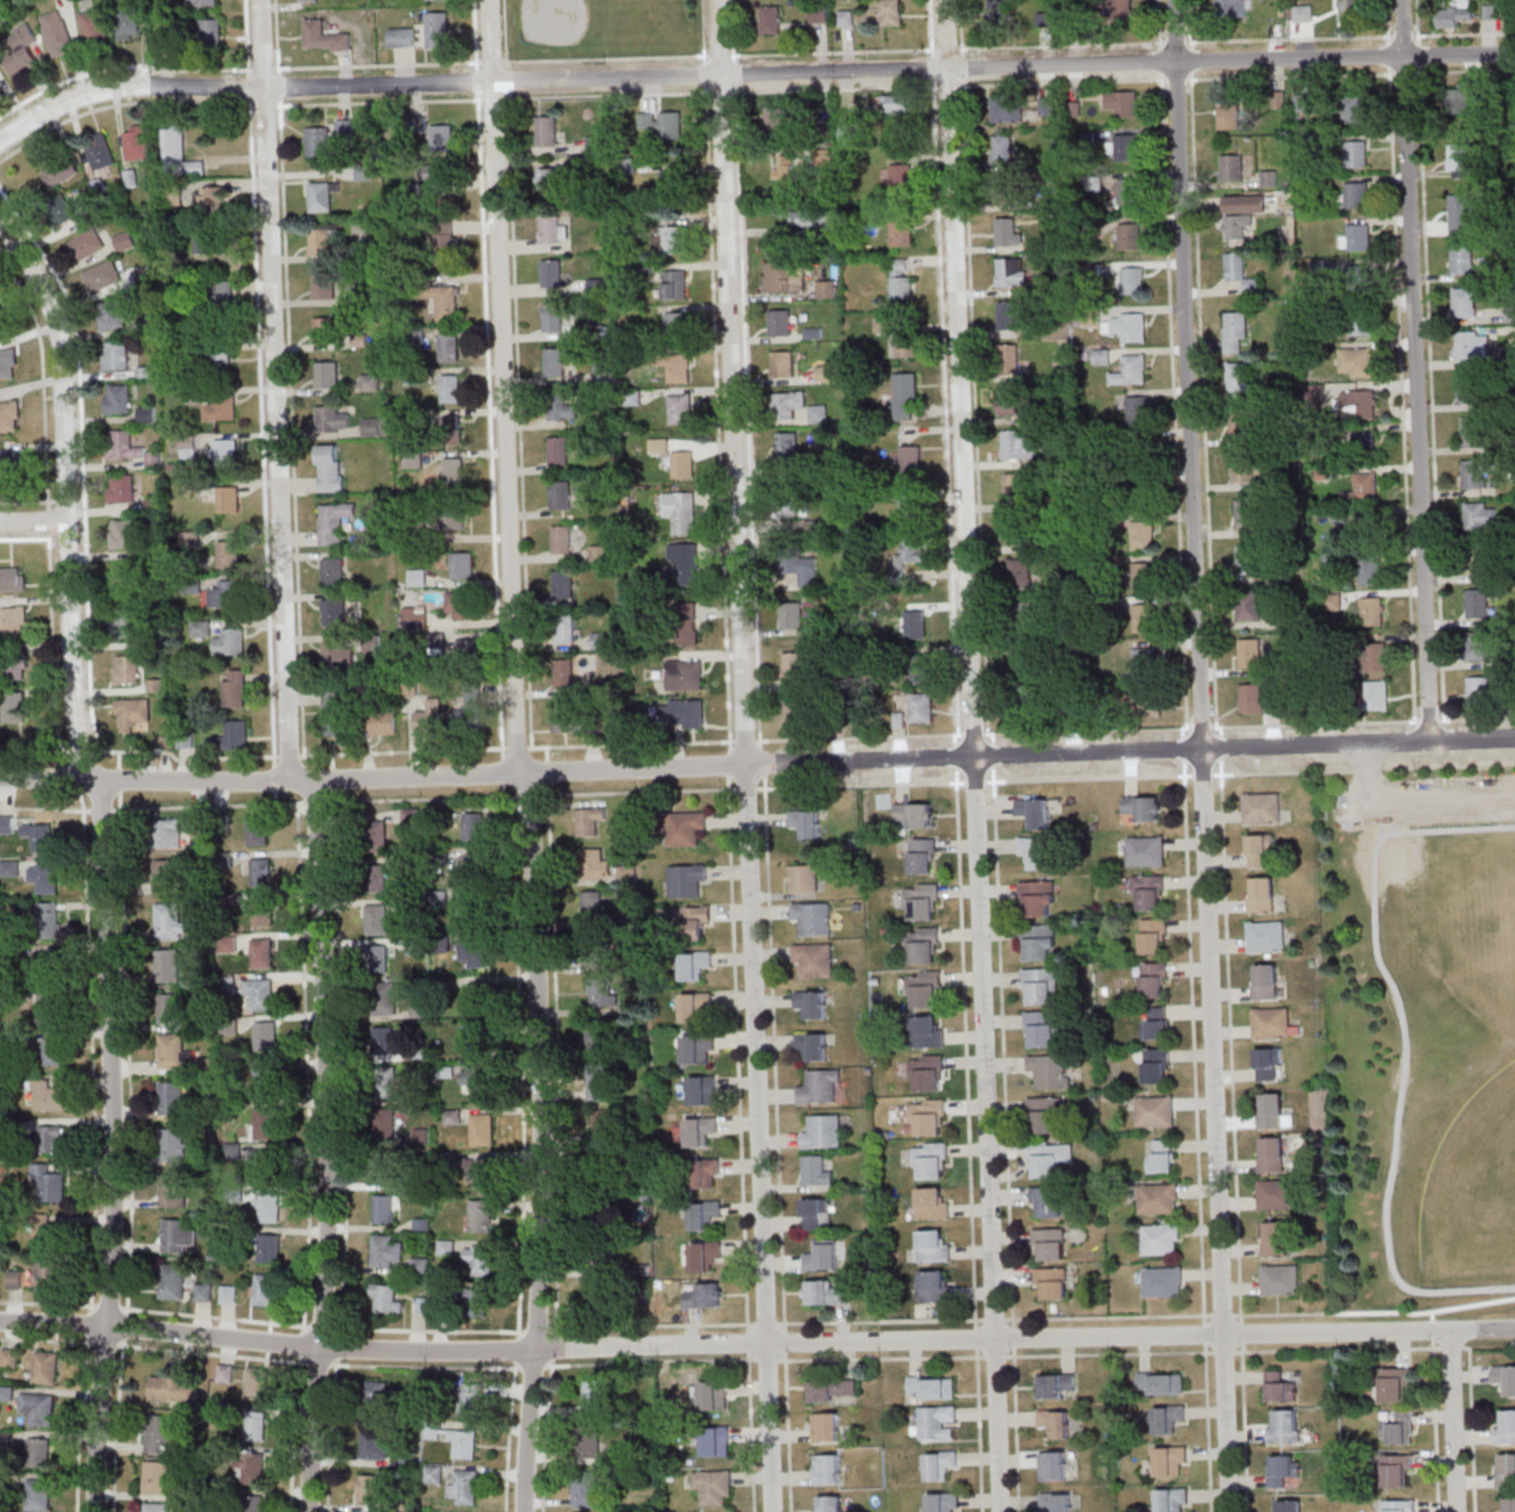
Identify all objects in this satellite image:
building: (307, 1)
building: (203, 2)
building: (1231, 8)
building: (1115, 9)
building: (996, 11)
building: (1350, 11)
building: (892, 12)
building: (1301, 13)
building: (819, 14)
park: (592, 17)
building: (846, 18)
building: (1452, 18)
building: (770, 19)
building: (128, 22)
road: (1417, 22)
building: (437, 24)
building: (93, 25)
road: (1190, 25)
park: (602, 29)
road: (931, 29)
building: (210, 30)
road: (733, 30)
road: (703, 31)
building: (57, 33)
road: (1463, 33)
road: (474, 34)
road: (505, 35)
building: (316, 36)
road: (246, 37)
building: (19, 48)
road: (833, 52)
road: (719, 55)
road: (604, 58)
road: (1190, 58)
road: (124, 65)
road: (751, 75)
building: (0, 84)
road: (750, 91)
building: (1460, 99)
building: (1122, 102)
building: (897, 103)
building: (1303, 103)
building: (1007, 107)
building: (1353, 107)
building: (1229, 115)
building: (777, 119)
building: (662, 123)
building: (343, 126)
building: (546, 131)
building: (851, 133)
building: (442, 137)
building: (317, 141)
building: (136, 142)
building: (1126, 147)
building: (1003, 149)
building: (99, 151)
building: (1356, 153)
building: (177, 154)
building: (1460, 160)
building: (786, 167)
building: (1231, 167)
building: (901, 170)
building: (58, 171)
building: (364, 172)
building: (438, 175)
building: (548, 178)
building: (670, 183)
building: (1002, 190)
building: (1126, 191)
building: (321, 195)
building: (1357, 195)
building: (212, 198)
building: (64, 209)
building: (1462, 214)
building: (1242, 215)
building: (814, 220)
building: (551, 229)
building: (1008, 232)
building: (901, 233)
building: (1131, 236)
building: (445, 237)
building: (1357, 238)
building: (672, 240)
building: (124, 241)
building: (319, 241)
building: (206, 242)
building: (84, 245)
building: (1463, 259)
building: (1236, 266)
building: (1012, 271)
building: (551, 272)
building: (144, 273)
building: (1357, 275)
building: (101, 276)
building: (784, 277)
building: (901, 278)
building: (1131, 280)
building: (675, 284)
building: (325, 285)
building: (826, 289)
building: (222, 291)
building: (1464, 301)
building: (447, 303)
building: (1510, 314)
building: (109, 315)
building: (1011, 315)
building: (552, 317)
building: (780, 322)
building: (883, 323)
building: (678, 324)
building: (1361, 324)
building: (2, 326)
building: (1127, 327)
building: (324, 330)
building: (1235, 331)
building: (907, 341)
building: (1473, 345)
building: (449, 347)
building: (114, 355)
building: (1102, 356)
building: (1012, 357)
building: (7, 359)
building: (220, 359)
building: (555, 361)
building: (1356, 362)
building: (782, 363)
building: (679, 368)
building: (1131, 370)
road: (1418, 370)
building: (603, 373)
building: (825, 373)
building: (326, 374)
building: (1238, 376)
building: (369, 382)
road: (505, 387)
building: (1470, 387)
building: (448, 388)
road: (277, 391)
building: (906, 396)
building: (116, 398)
building: (1010, 401)
building: (788, 404)
building: (1358, 404)
building: (218, 408)
building: (561, 408)
building: (680, 409)
building: (1136, 409)
building: (146, 414)
building: (819, 414)
building: (9, 415)
building: (332, 419)
building: (1241, 423)
building: (371, 426)
building: (450, 428)
building: (1472, 431)
building: (1361, 444)
building: (1018, 445)
building: (187, 446)
building: (788, 446)
building: (126, 447)
building: (558, 450)
building: (223, 452)
building: (1135, 452)
building: (912, 458)
building: (9, 461)
building: (683, 464)
building: (330, 468)
building: (1244, 468)
building: (453, 471)
building: (1476, 473)
building: (1014, 486)
building: (121, 488)
building: (1363, 489)
building: (560, 495)
building: (227, 499)
road: (32, 500)
building: (793, 510)
building: (681, 511)
building: (1245, 514)
building: (911, 515)
building: (1479, 517)
building: (450, 519)
road: (32, 522)
building: (334, 522)
building: (1367, 524)
road: (47, 531)
building: (1016, 531)
building: (122, 533)
building: (1140, 535)
road: (23, 538)
building: (190, 538)
building: (561, 539)
building: (599, 553)
building: (910, 553)
building: (228, 554)
building: (1247, 559)
building: (1477, 559)
building: (686, 562)
building: (462, 565)
building: (801, 568)
building: (1370, 570)
building: (332, 571)
building: (1020, 573)
building: (1141, 576)
building: (12, 577)
building: (134, 578)
building: (563, 584)
building: (224, 594)
building: (1332, 601)
building: (1476, 603)
building: (461, 604)
building: (1248, 606)
building: (1372, 610)
building: (333, 612)
building: (791, 615)
building: (1022, 617)
building: (1142, 618)
building: (13, 619)
building: (688, 623)
building: (916, 623)
building: (129, 625)
building: (566, 627)
building: (200, 628)
building: (601, 640)
building: (230, 642)
building: (373, 643)
building: (1478, 645)
building: (467, 650)
building: (1249, 652)
building: (338, 654)
building: (1374, 656)
building: (1020, 660)
road: (1183, 661)
building: (1145, 663)
building: (794, 666)
building: (14, 667)
building: (919, 668)
building: (126, 669)
building: (685, 672)
building: (564, 674)
building: (1479, 687)
building: (234, 688)
road: (1214, 695)
building: (1376, 695)
building: (336, 697)
building: (1250, 697)
building: (1025, 700)
building: (1149, 702)
building: (14, 706)
building: (921, 708)
building: (470, 710)
building: (794, 711)
building: (133, 715)
building: (429, 716)
building: (690, 716)
building: (566, 717)
building: (383, 723)
building: (337, 724)
building: (234, 735)
road: (100, 743)
road: (42, 749)
road: (1201, 755)
road: (743, 756)
road: (973, 756)
road: (988, 756)
road: (757, 764)
road: (955, 785)
road: (763, 786)
road: (728, 787)
road: (1417, 797)
parking lot: (1429, 800)
building: (1144, 807)
building: (1263, 807)
building: (1034, 812)
building: (916, 814)
building: (411, 816)
building: (589, 820)
building: (806, 822)
building: (472, 825)
building: (686, 828)
building: (257, 830)
building: (167, 832)
building: (377, 835)
building: (42, 838)
building: (1036, 851)
building: (1147, 851)
building: (1260, 851)
building: (922, 855)
road: (101, 858)
building: (596, 863)
building: (475, 867)
building: (10, 868)
building: (261, 872)
building: (627, 873)
building: (165, 875)
building: (45, 876)
building: (376, 877)
building: (803, 878)
building: (687, 880)
building: (1149, 892)
building: (1261, 894)
building: (1037, 898)
building: (922, 901)
building: (592, 903)
building: (472, 908)
building: (261, 912)
building: (813, 917)
building: (377, 919)
building: (49, 920)
building: (169, 921)
building: (695, 921)
park: (1470, 929)
building: (1154, 936)
building: (1266, 936)
building: (1039, 942)
building: (923, 945)
building: (415, 948)
building: (475, 952)
building: (262, 953)
building: (596, 956)
building: (377, 958)
building: (814, 959)
building: (50, 964)
building: (695, 964)
building: (167, 965)
building: (1155, 980)
building: (1265, 981)
building: (1040, 986)
building: (925, 989)
building: (601, 991)
building: (260, 993)
building: (480, 996)
building: (386, 998)
building: (812, 1003)
building: (696, 1006)
building: (168, 1007)
building: (49, 1009)
building: (1273, 1023)
building: (1156, 1024)
building: (1043, 1029)
building: (927, 1031)
park: (1421, 1031)
building: (265, 1036)
building: (597, 1038)
building: (383, 1040)
building: (478, 1041)
building: (813, 1045)
building: (699, 1049)
building: (54, 1051)
building: (174, 1052)
building: (1267, 1063)
building: (1157, 1066)
building: (1051, 1070)
building: (927, 1073)
building: (265, 1078)
building: (386, 1082)
building: (602, 1082)
building: (477, 1083)
building: (820, 1087)
building: (703, 1090)
building: (47, 1096)
building: (171, 1098)
building: (1155, 1111)
building: (1272, 1112)
building: (1044, 1115)
building: (451, 1116)
building: (929, 1117)
building: (266, 1122)
building: (384, 1123)
building: (604, 1126)
building: (481, 1129)
building: (701, 1130)
building: (823, 1132)
building: (420, 1136)
building: (51, 1138)
road: (541, 1143)
building: (173, 1144)
road: (330, 1147)
building: (1270, 1154)
building: (1162, 1156)
building: (1050, 1159)
building: (267, 1161)
building: (931, 1161)
building: (385, 1169)
building: (481, 1169)
building: (816, 1171)
building: (706, 1173)
building: (47, 1182)
park: (1477, 1187)
building: (173, 1190)
building: (1275, 1194)
building: (599, 1196)
building: (1158, 1198)
building: (1047, 1202)
building: (933, 1203)
building: (268, 1204)
building: (387, 1209)
building: (816, 1213)
building: (704, 1214)
building: (480, 1215)
building: (47, 1230)
building: (176, 1235)
building: (1160, 1238)
building: (1274, 1239)
building: (1050, 1244)
building: (934, 1246)
building: (269, 1248)
building: (386, 1250)
building: (705, 1255)
building: (823, 1256)
building: (480, 1258)
building: (420, 1264)
building: (48, 1272)
building: (1280, 1279)
building: (172, 1281)
building: (1162, 1281)
building: (1053, 1282)
building: (934, 1285)
building: (266, 1289)
building: (203, 1292)
building: (827, 1293)
building: (228, 1294)
building: (705, 1296)
building: (602, 1297)
building: (387, 1298)
road: (55, 1302)
building: (476, 1302)
road: (115, 1306)
road: (1282, 1313)
road: (1221, 1315)
road: (87, 1323)
road: (665, 1324)
road: (124, 1330)
road: (1240, 1331)
road: (1204, 1333)
road: (756, 1345)
road: (1355, 1348)
building: (9, 1357)
road: (537, 1365)
building: (45, 1367)
building: (225, 1373)
building: (1504, 1379)
building: (257, 1383)
building: (1394, 1383)
building: (1057, 1385)
building: (1167, 1385)
building: (933, 1387)
building: (1280, 1387)
building: (173, 1389)
building: (833, 1390)
building: (376, 1393)
building: (711, 1395)
building: (595, 1396)
building: (470, 1399)
building: (38, 1408)
building: (1168, 1418)
building: (1056, 1422)
road: (1454, 1422)
building: (937, 1423)
building: (256, 1426)
road: (1244, 1426)
road: (1435, 1426)
building: (826, 1427)
building: (1286, 1427)
building: (1506, 1427)
road: (1207, 1428)
building: (1398, 1428)
building: (158, 1434)
building: (716, 1441)
building: (375, 1443)
building: (463, 1443)
building: (590, 1444)
building: (38, 1452)
building: (1170, 1460)
building: (941, 1464)
building: (1054, 1465)
building: (251, 1468)
building: (827, 1468)
building: (1504, 1468)
building: (1283, 1469)
building: (1395, 1470)
building: (433, 1474)
building: (156, 1477)
building: (713, 1486)
building: (465, 1487)
building: (371, 1488)
building: (585, 1489)
building: (36, 1494)
building: (1172, 1500)
building: (943, 1502)
building: (1059, 1502)
building: (254, 1503)
building: (828, 1503)
building: (1507, 1504)
building: (1290, 1506)
building: (1399, 1506)
building: (155, 1507)

